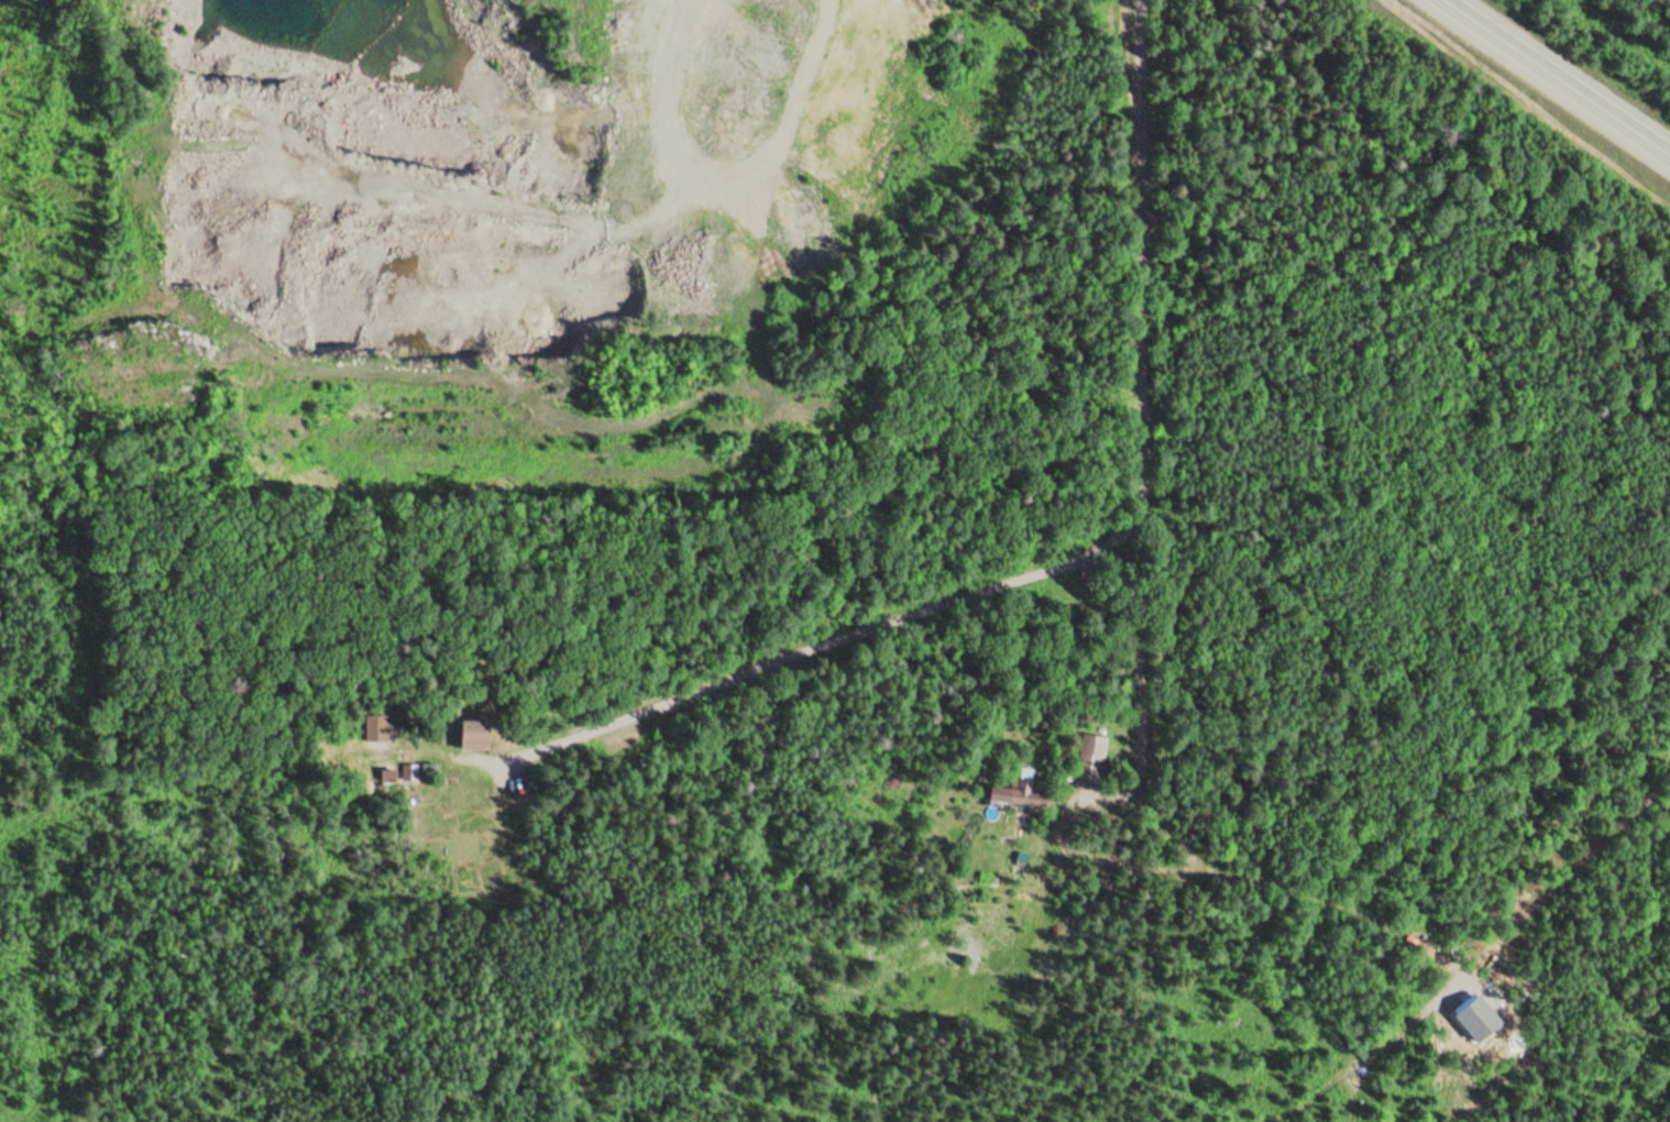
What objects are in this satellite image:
road: (1589, 36)
road: (1559, 78)
road: (1133, 453)
road: (789, 657)
building: (380, 726)
building: (465, 733)
building: (1089, 758)
building: (1008, 790)
road: (1470, 943)

